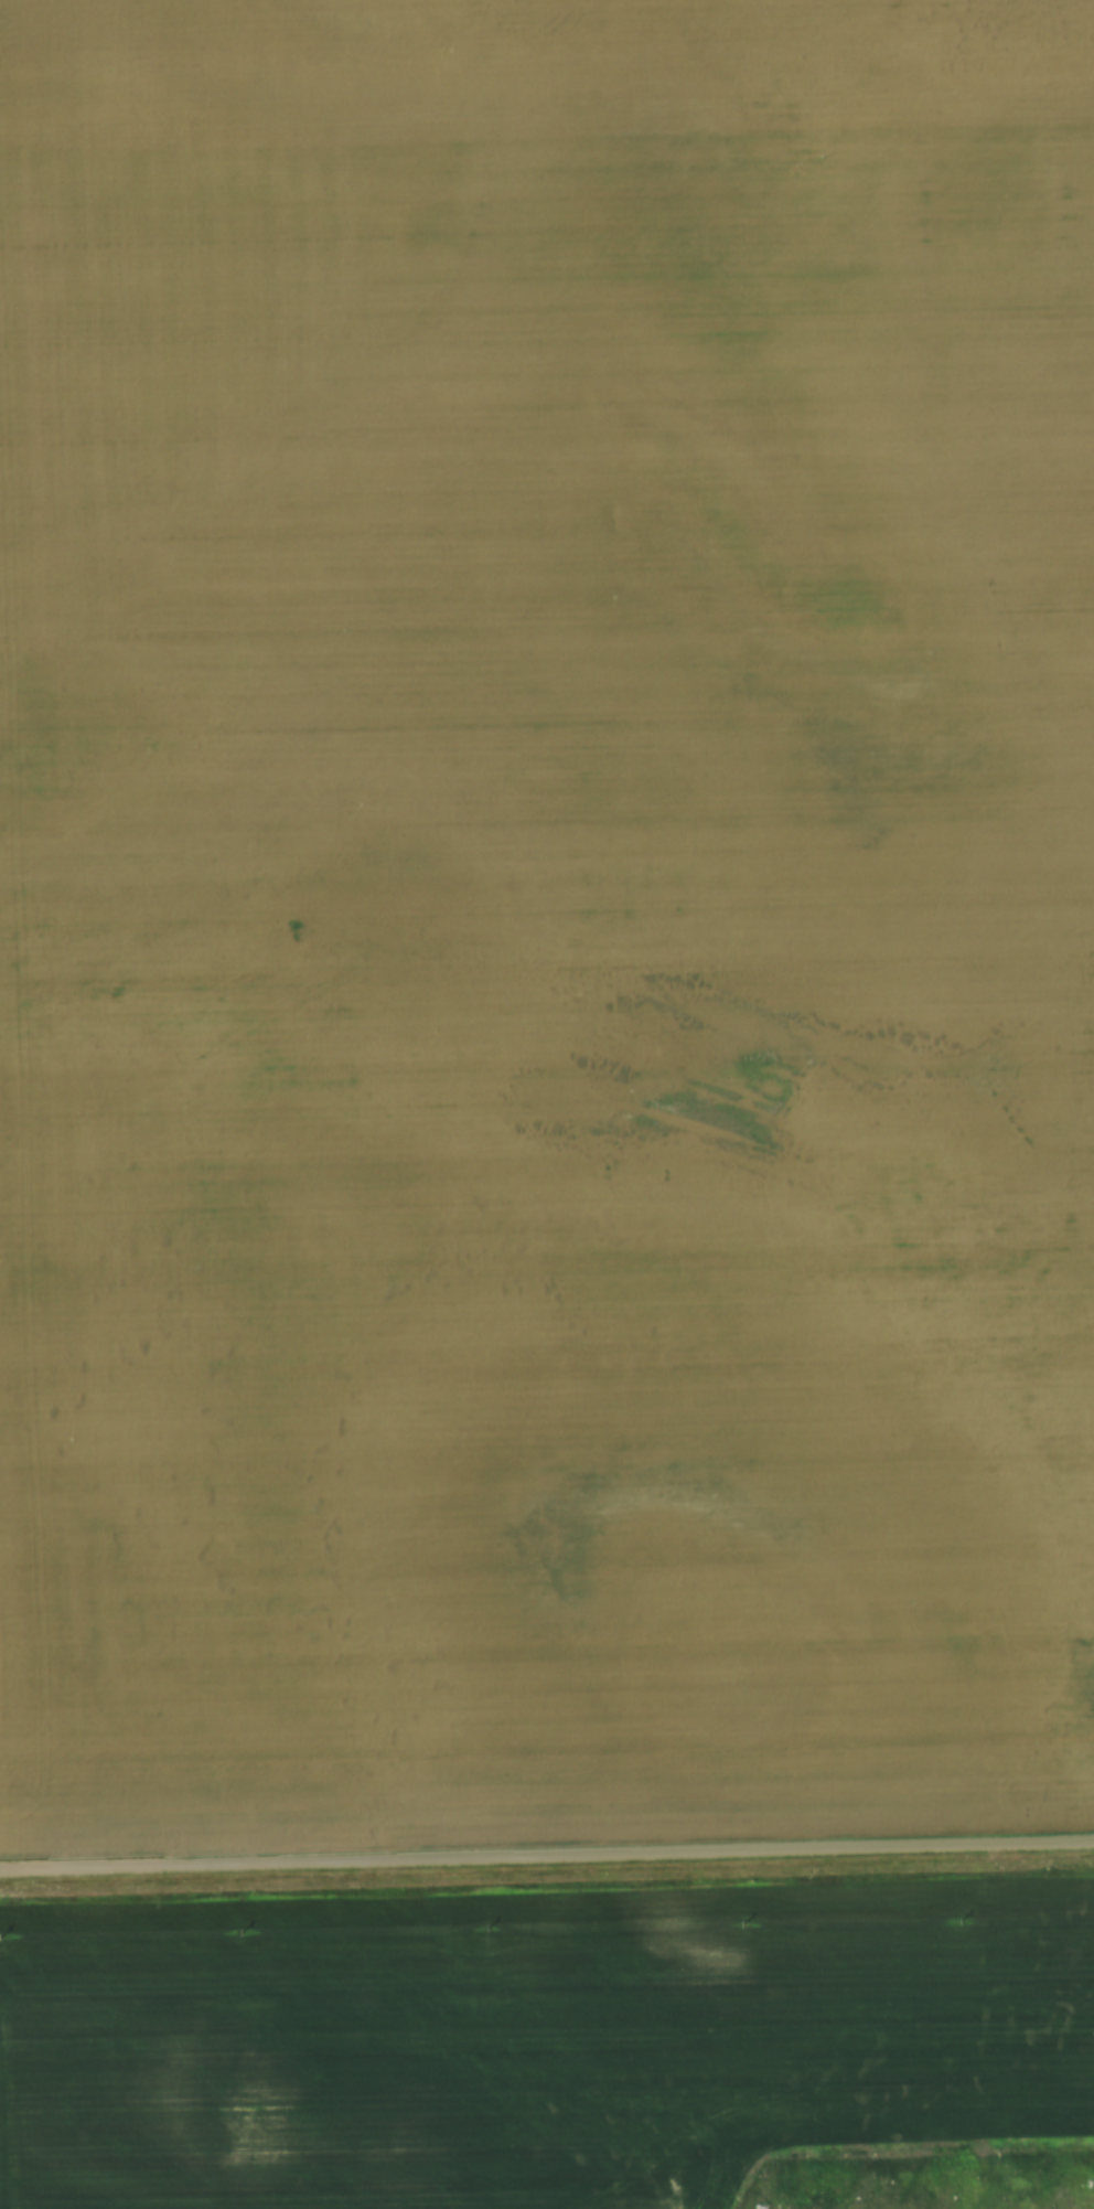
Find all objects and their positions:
road: (546, 1856)

